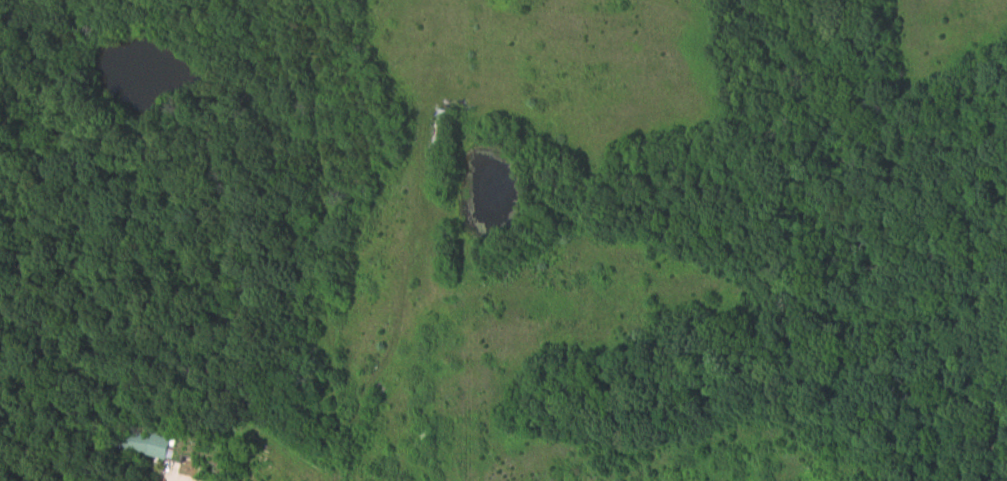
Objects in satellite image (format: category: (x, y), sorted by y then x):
building: (153, 443)

